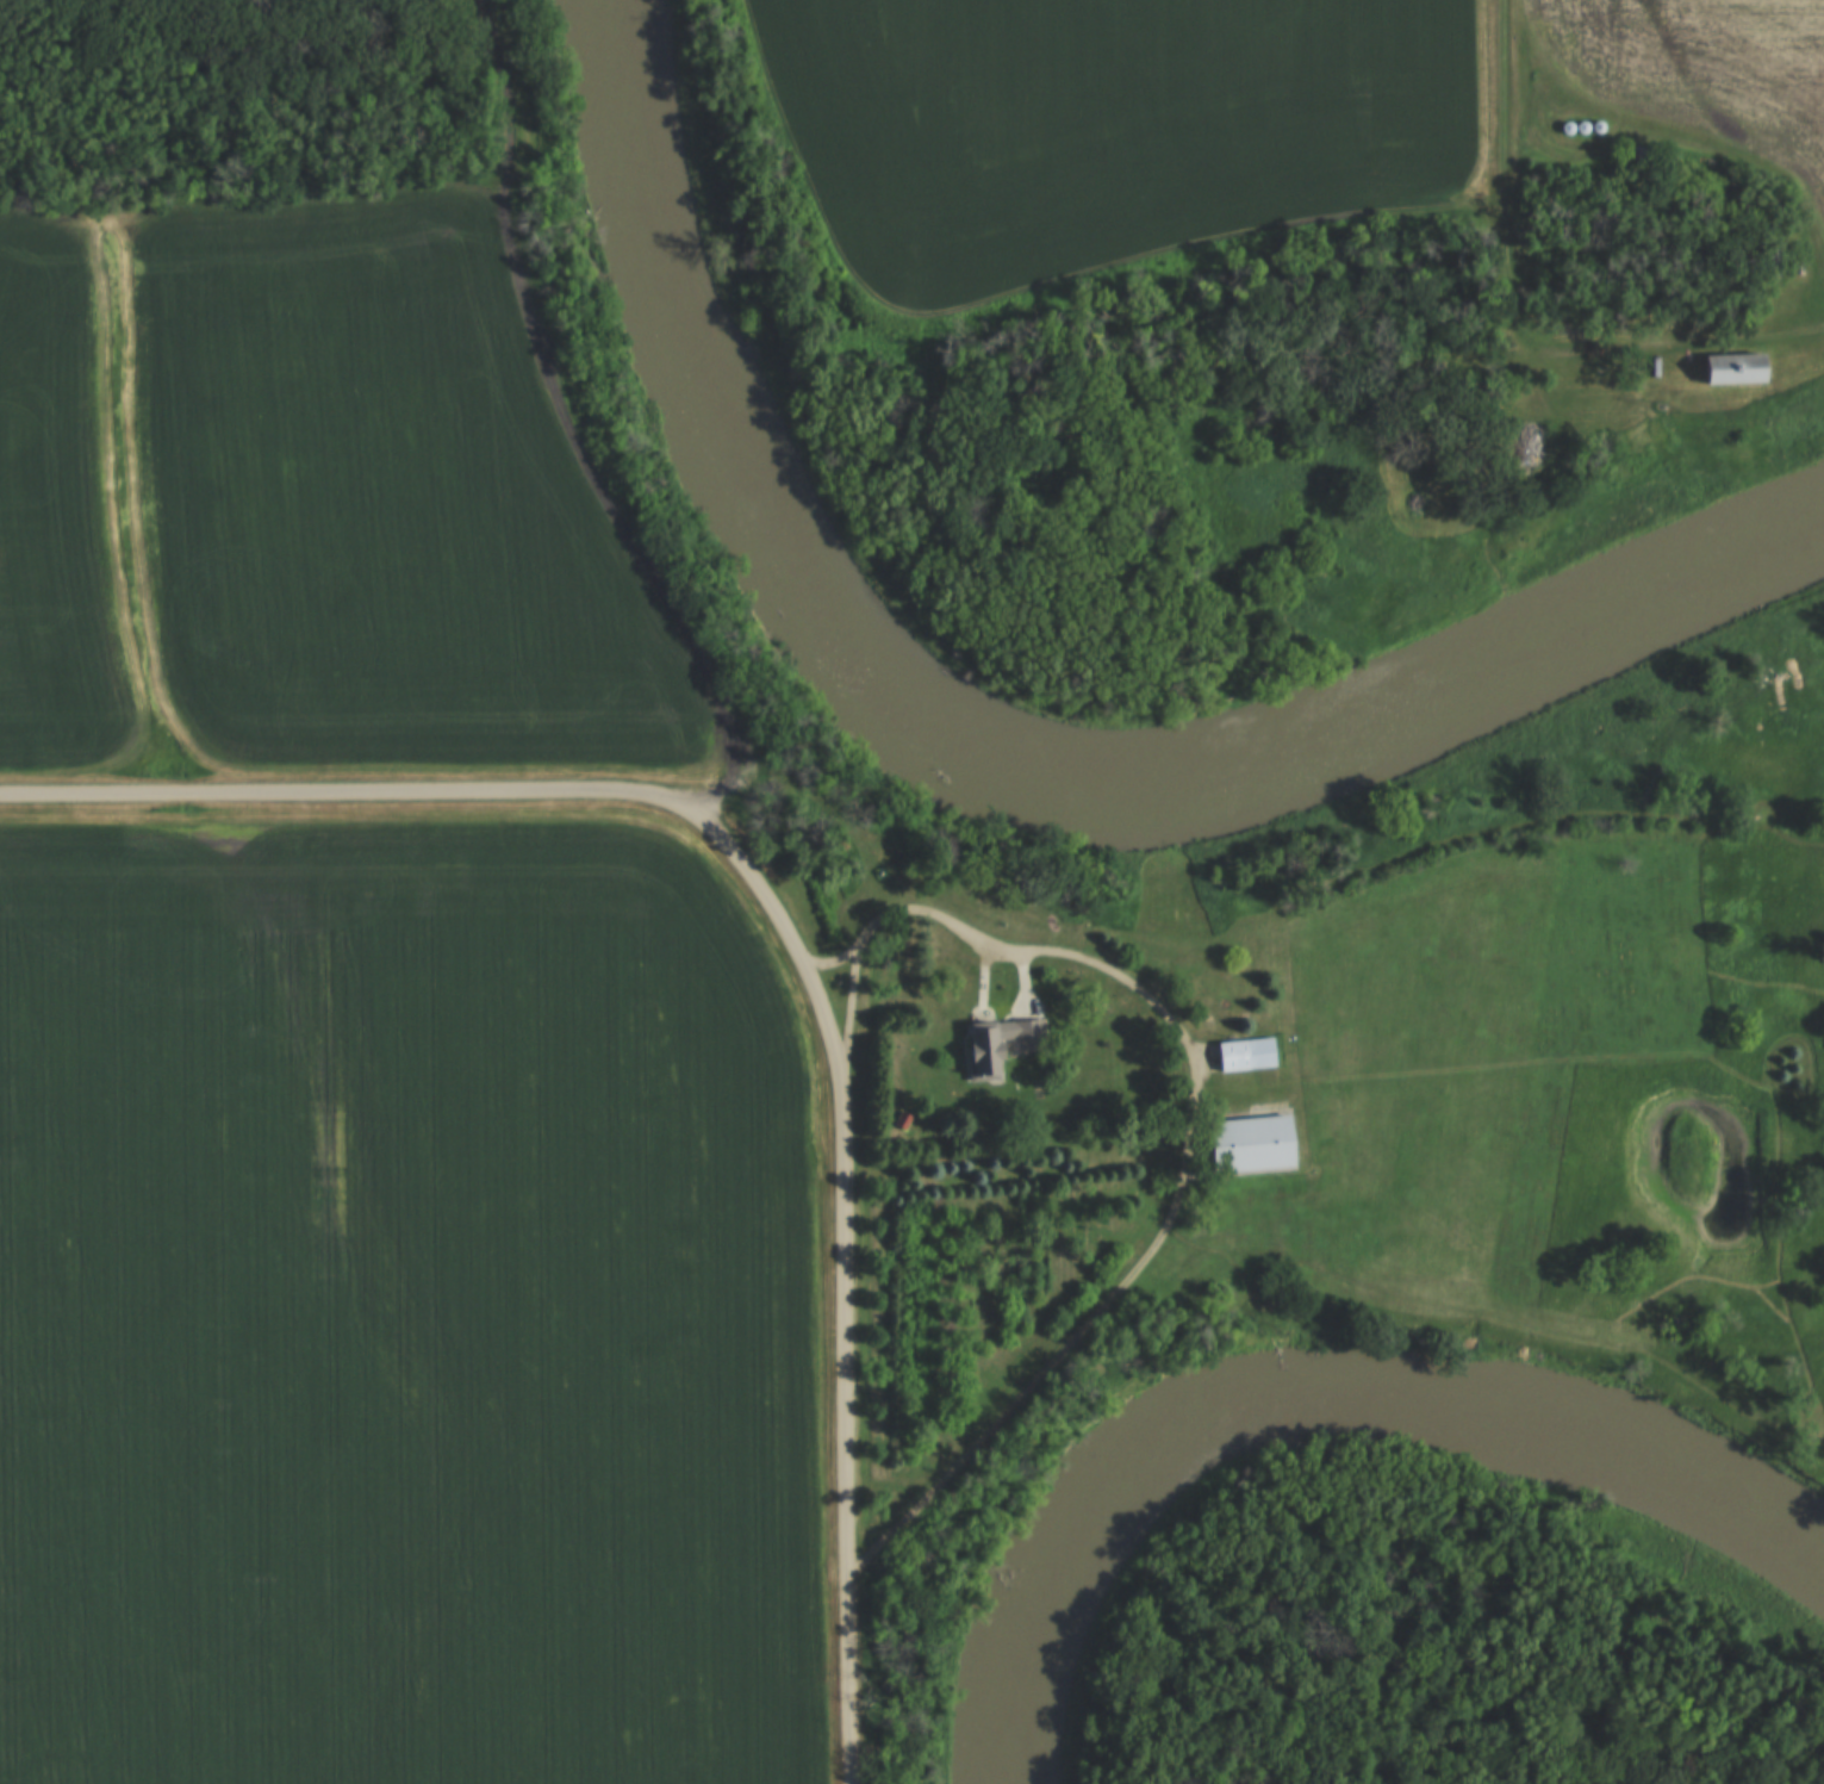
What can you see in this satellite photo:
road: (1502, 216)
road: (1754, 256)
building: (1767, 263)
building: (1726, 371)
building: (1523, 447)
river: (996, 764)
road: (496, 794)
road: (849, 1006)
building: (996, 1046)
building: (1241, 1055)
building: (1246, 1145)
road: (1189, 1149)
river: (1328, 1417)
road: (843, 1423)

